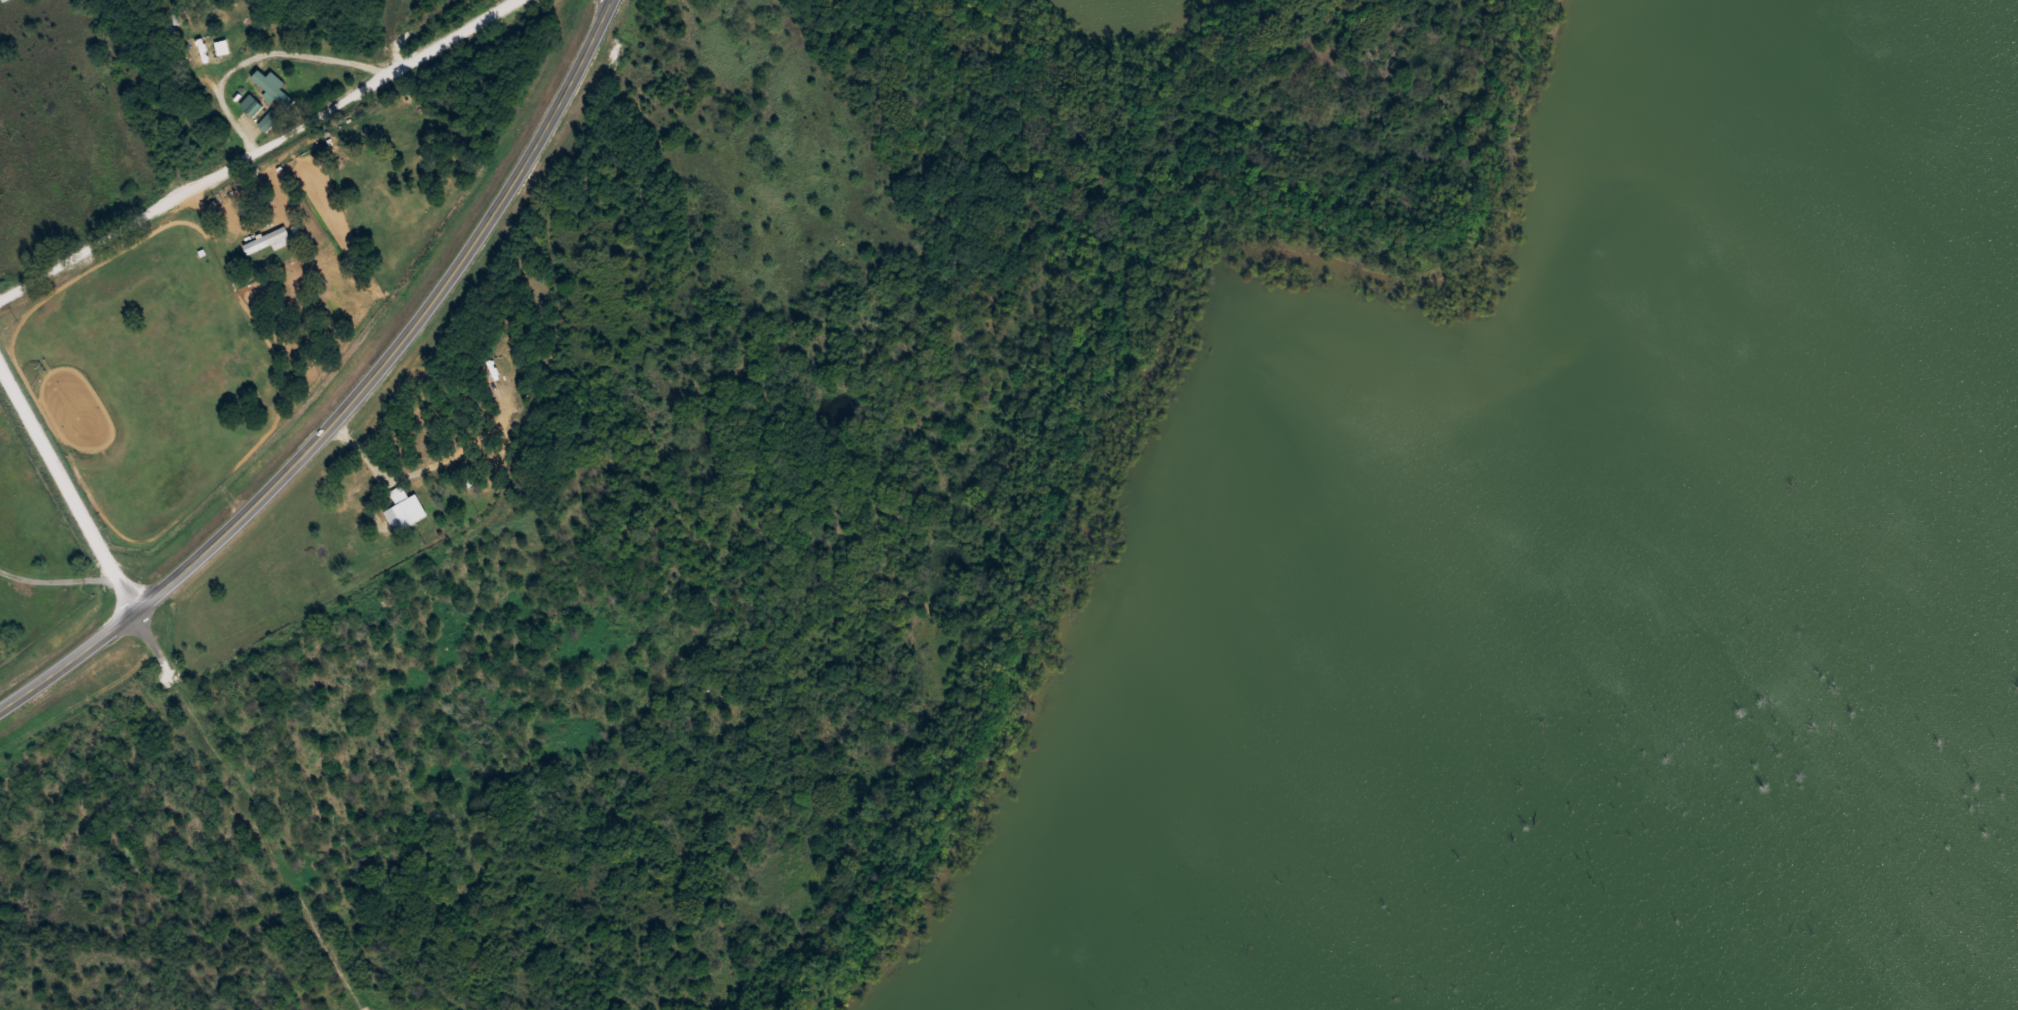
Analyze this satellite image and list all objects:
building: (218, 39)
building: (274, 119)
road: (264, 154)
building: (258, 209)
building: (273, 240)
road: (359, 396)
road: (71, 482)
building: (408, 509)
building: (1220, 614)
building: (1063, 991)
building: (1273, 997)

